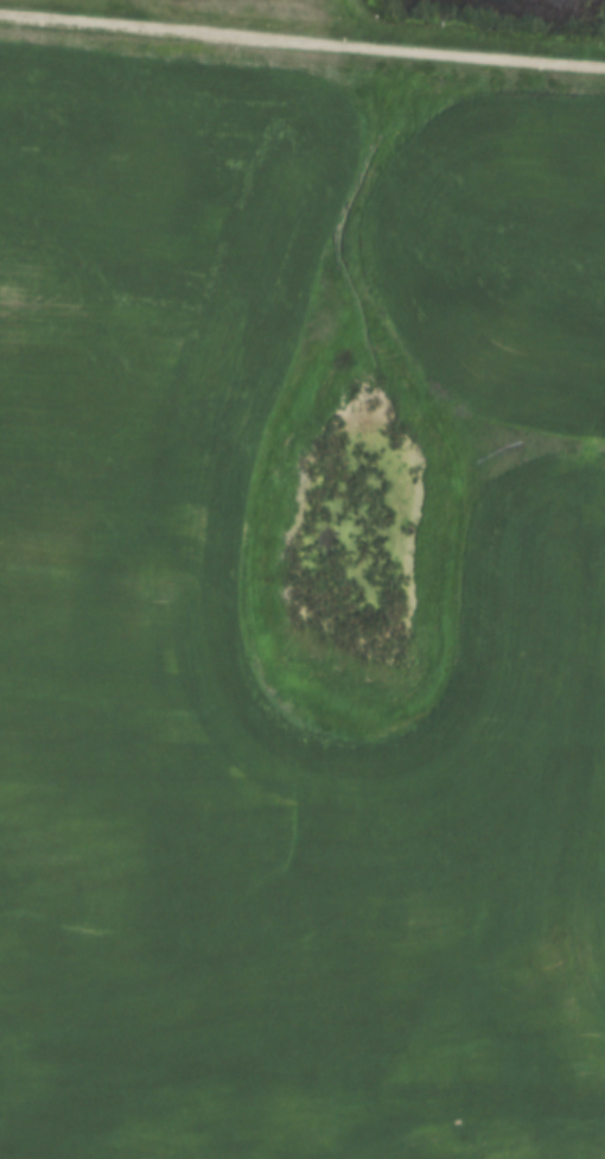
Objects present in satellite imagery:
road: (302, 37)

